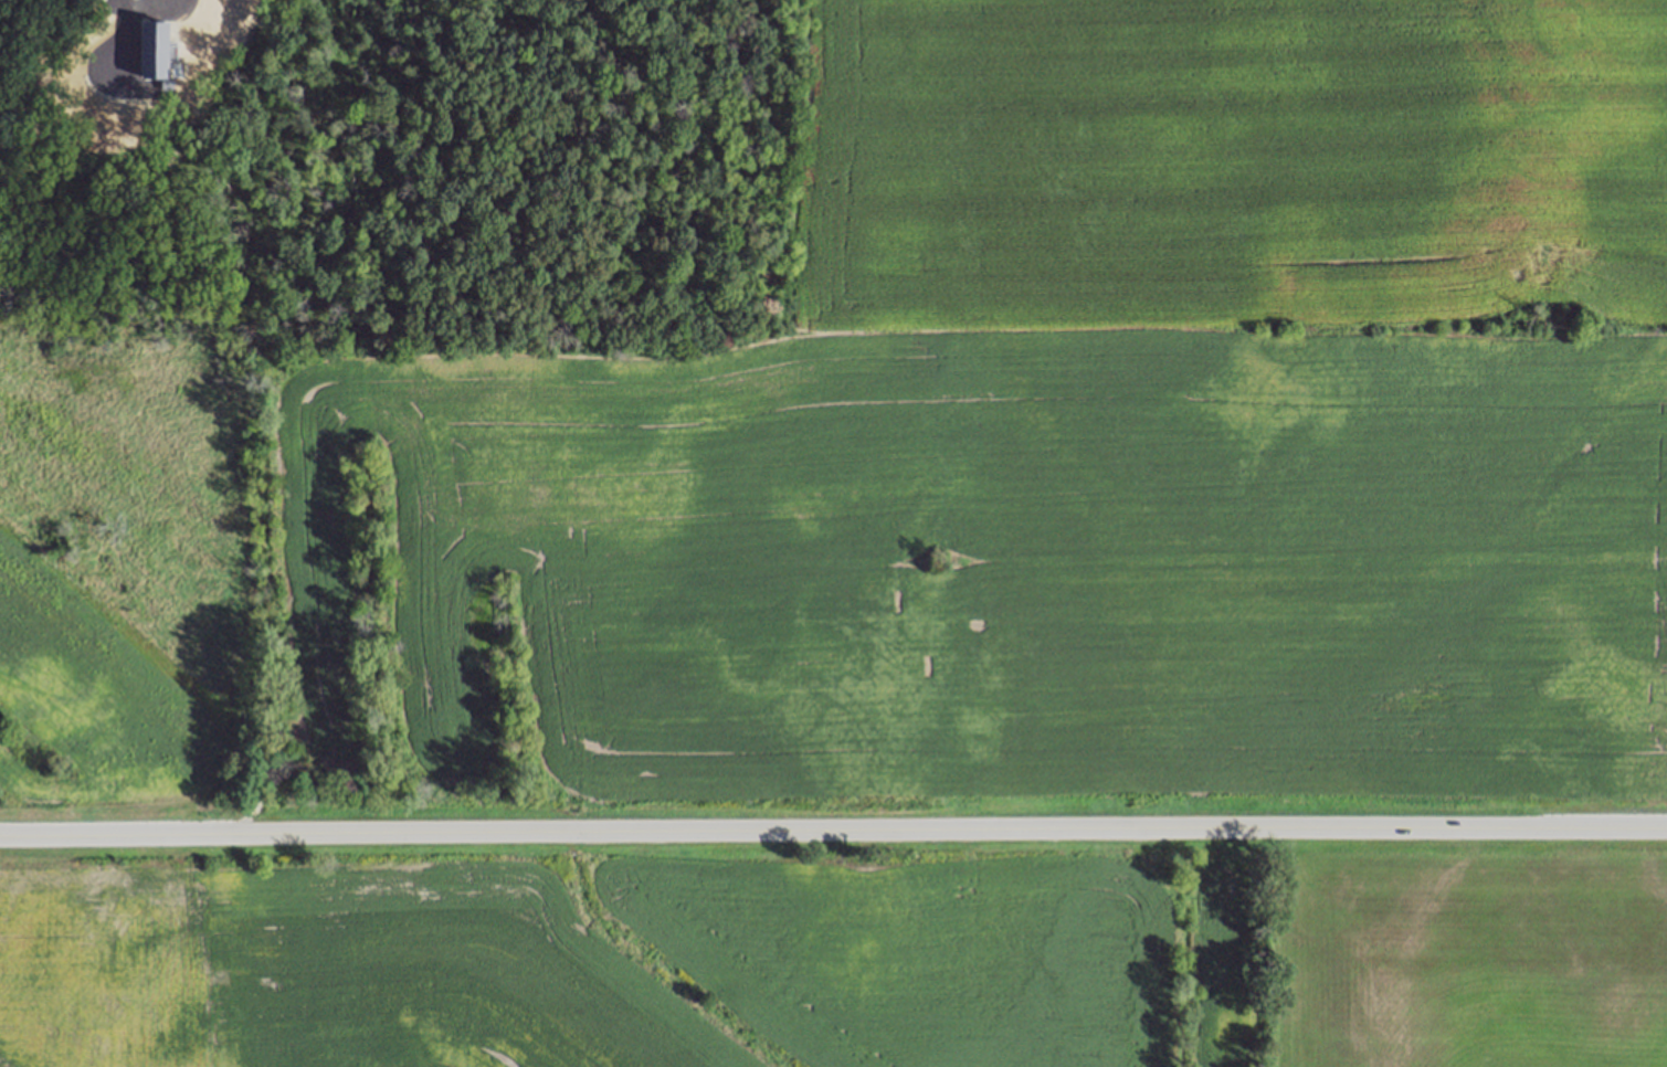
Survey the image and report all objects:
building: (157, 51)
road: (108, 64)
building: (179, 151)
road: (833, 831)

